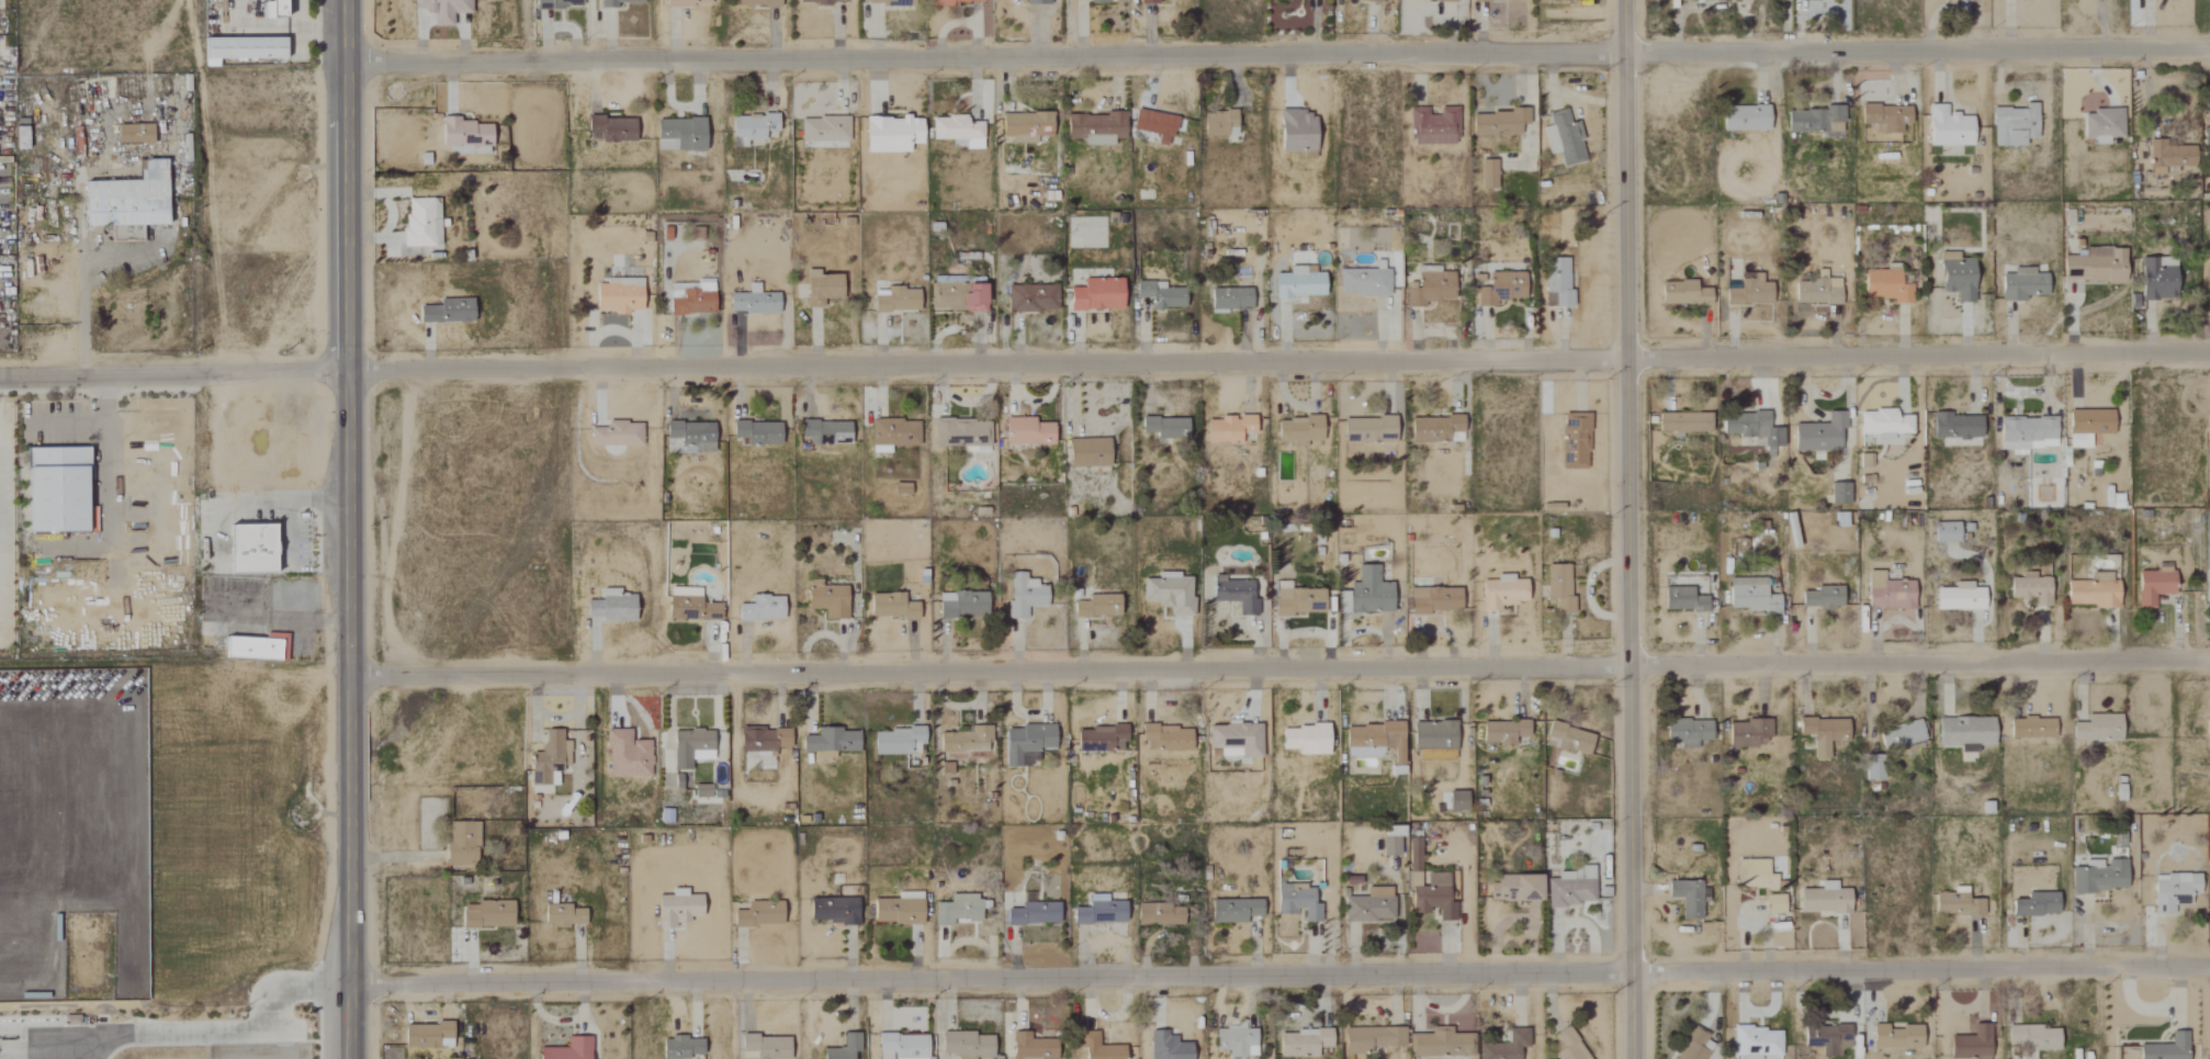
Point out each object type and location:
building: (1090, 0)
building: (1287, 0)
building: (1371, 0)
building: (1489, 0)
building: (1557, 0)
building: (820, 1)
building: (1147, 1)
building: (613, 2)
building: (685, 2)
building: (755, 2)
building: (888, 2)
building: (952, 2)
building: (1036, 2)
building: (556, 3)
building: (441, 9)
building: (239, 48)
road: (1274, 57)
building: (1885, 117)
building: (1745, 119)
building: (1814, 121)
building: (1497, 122)
building: (1218, 123)
building: (1154, 125)
building: (2014, 125)
building: (2102, 125)
building: (1025, 126)
building: (1093, 127)
building: (1433, 127)
building: (1948, 127)
building: (611, 128)
building: (749, 128)
building: (823, 129)
building: (956, 131)
building: (133, 133)
building: (1296, 133)
building: (890, 134)
building: (678, 135)
building: (463, 136)
building: (19, 137)
building: (2205, 137)
building: (1563, 138)
building: (2166, 156)
building: (1487, 174)
building: (126, 199)
building: (420, 222)
building: (2094, 266)
building: (1955, 277)
building: (2156, 279)
building: (1558, 281)
road: (80, 282)
building: (1363, 282)
building: (1297, 283)
building: (2021, 284)
building: (1885, 286)
building: (1497, 288)
building: (820, 289)
building: (1429, 289)
building: (1817, 290)
building: (1749, 291)
building: (1683, 293)
building: (956, 294)
building: (617, 295)
building: (1095, 295)
building: (1159, 295)
building: (1031, 297)
building: (1230, 298)
building: (692, 300)
building: (897, 301)
building: (752, 302)
building: (446, 312)
road: (1277, 363)
road: (171, 372)
building: (1683, 423)
building: (1883, 424)
building: (2087, 426)
building: (1955, 427)
building: (1164, 428)
building: (1433, 428)
building: (1751, 428)
building: (1227, 429)
building: (1298, 430)
building: (1368, 430)
building: (1027, 431)
building: (756, 432)
building: (824, 432)
building: (960, 433)
building: (1819, 433)
building: (2025, 433)
building: (616, 435)
building: (691, 435)
building: (892, 435)
building: (1575, 440)
road: (105, 443)
building: (1086, 453)
building: (58, 488)
building: (900, 489)
building: (1839, 494)
road: (347, 529)
road: (1631, 529)
building: (1944, 532)
building: (249, 550)
building: (2153, 586)
building: (1557, 588)
building: (2030, 590)
building: (2093, 592)
building: (1501, 593)
building: (1887, 593)
building: (1365, 594)
building: (1023, 595)
building: (1168, 595)
building: (1233, 595)
building: (1750, 595)
building: (1959, 597)
building: (1822, 598)
building: (826, 599)
building: (1433, 600)
building: (1682, 600)
building: (1297, 601)
building: (961, 605)
building: (616, 606)
building: (689, 606)
building: (890, 606)
building: (1096, 606)
building: (591, 609)
building: (760, 609)
road: (1278, 669)
building: (2030, 729)
building: (2096, 729)
building: (1502, 732)
building: (1687, 732)
building: (1747, 733)
building: (1964, 733)
building: (2207, 733)
building: (1823, 734)
building: (1901, 735)
building: (1165, 737)
building: (1100, 739)
building: (1433, 739)
building: (1568, 739)
building: (1233, 740)
building: (1304, 740)
building: (762, 741)
building: (831, 741)
building: (1373, 741)
building: (897, 742)
building: (965, 743)
building: (1026, 744)
building: (690, 747)
building: (625, 755)
building: (549, 759)
building: (1873, 770)
building: (702, 790)
building: (1456, 801)
building: (1390, 842)
building: (461, 844)
building: (1413, 854)
building: (1754, 875)
building: (2099, 877)
building: (1571, 887)
building: (1514, 888)
building: (2173, 891)
building: (1433, 898)
building: (1688, 898)
building: (1824, 900)
building: (1297, 902)
building: (1774, 904)
building: (1957, 904)
building: (2034, 905)
building: (1369, 906)
building: (676, 909)
building: (898, 910)
building: (958, 910)
building: (832, 911)
building: (1100, 911)
building: (1234, 911)
building: (1033, 914)
building: (486, 915)
building: (562, 915)
building: (757, 915)
building: (1159, 915)
road: (1277, 976)
building: (1452, 1024)
road: (218, 1032)
building: (427, 1036)
building: (1895, 1037)
building: (1371, 1038)
building: (1827, 1038)
building: (2030, 1038)
building: (1236, 1043)
building: (1303, 1043)
building: (1756, 1043)
building: (1439, 1044)
building: (966, 1045)
building: (901, 1046)
building: (1506, 1046)
building: (1568, 1046)
building: (1693, 1046)
building: (765, 1047)
building: (1030, 1047)
building: (1165, 1047)
building: (681, 1048)
building: (844, 1048)
building: (2165, 1048)
building: (567, 1049)
building: (1101, 1050)

